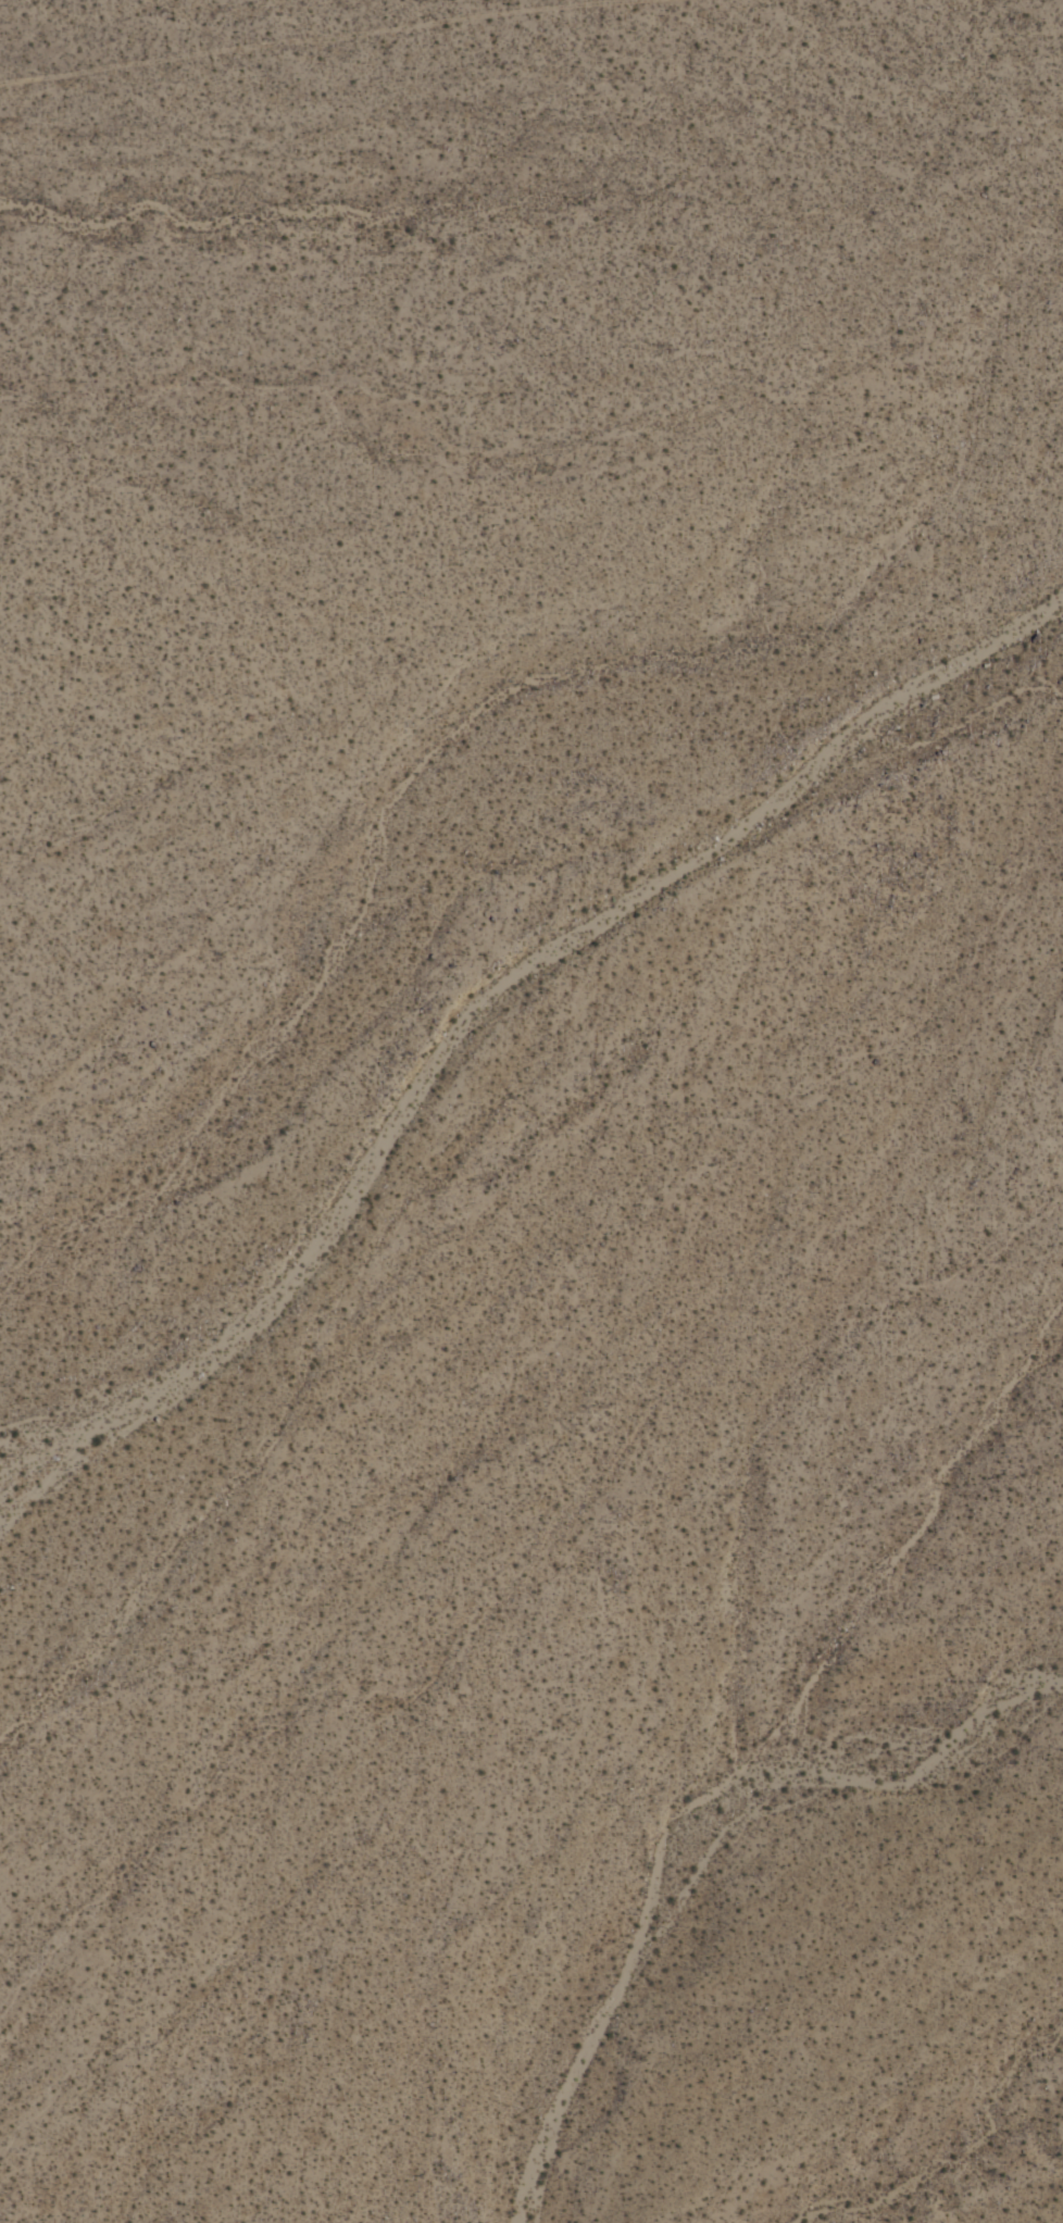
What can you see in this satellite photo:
road: (307, 36)

